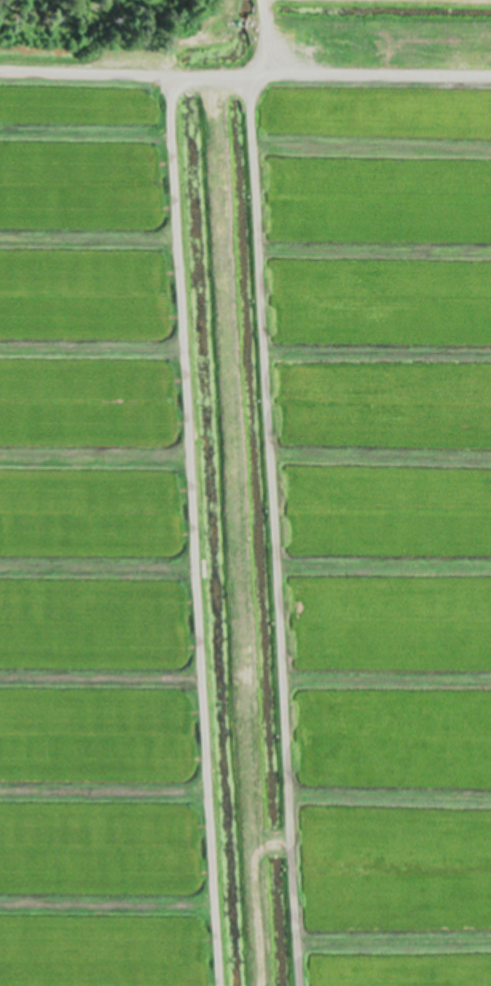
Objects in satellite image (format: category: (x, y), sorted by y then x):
road: (245, 76)
crop: (249, 505)
road: (192, 531)

